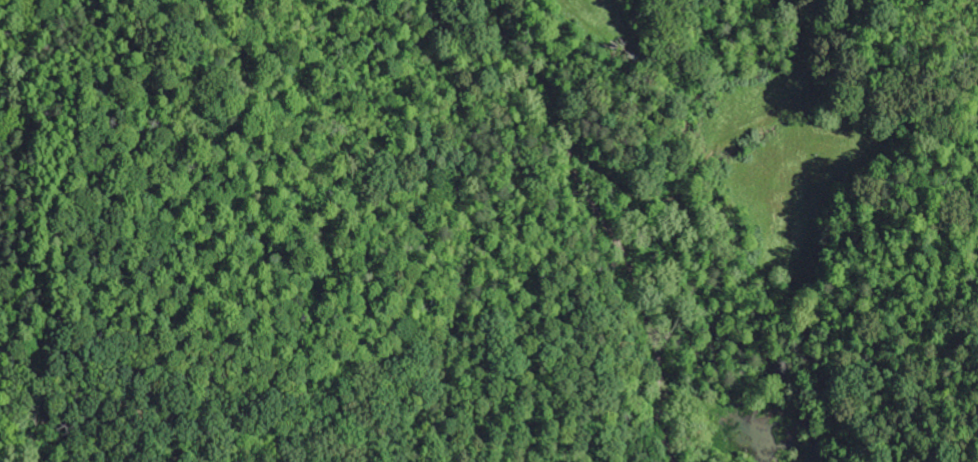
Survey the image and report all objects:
road: (587, 118)
road: (786, 124)
road: (782, 330)

